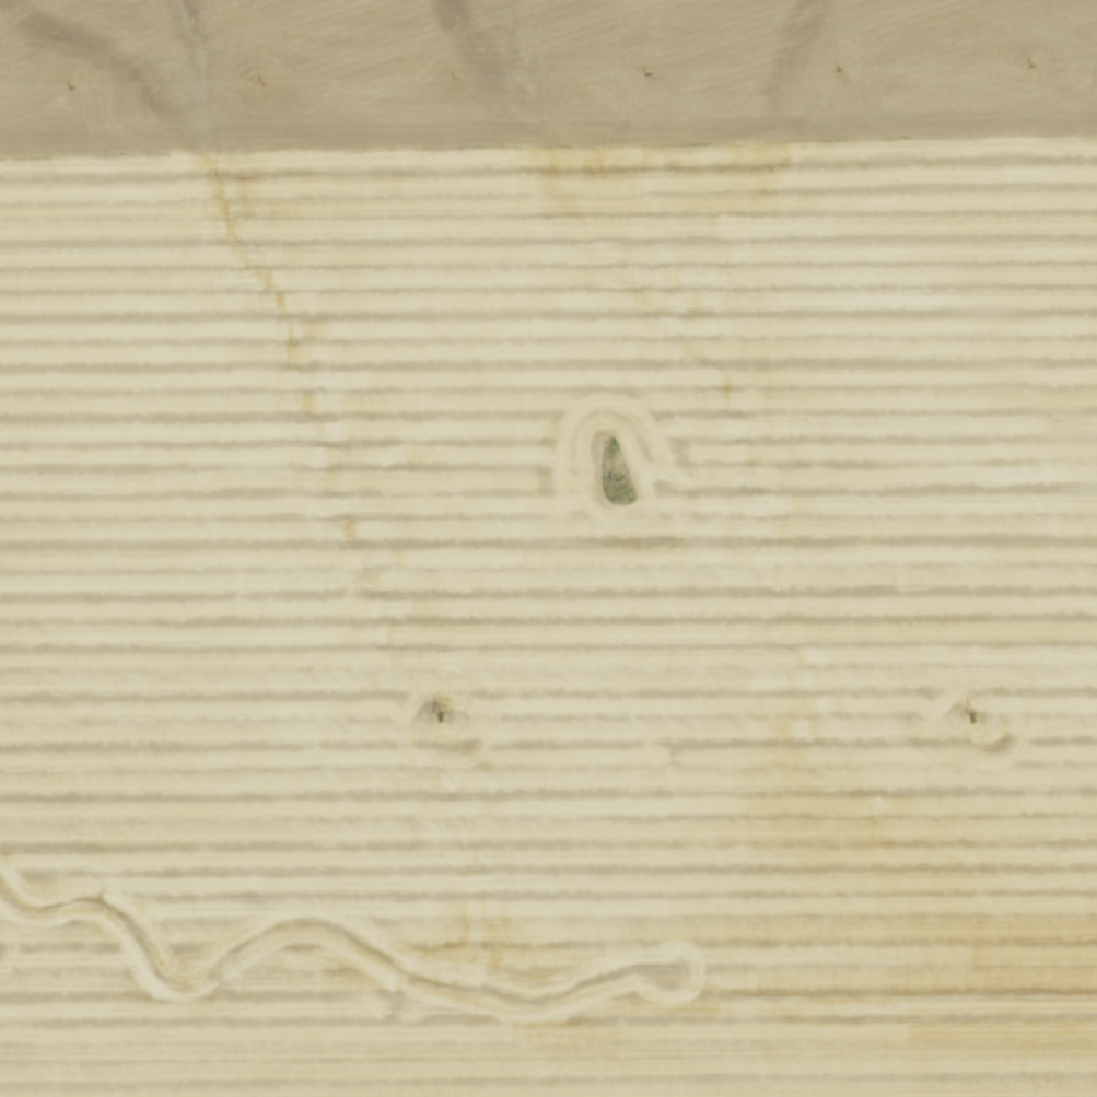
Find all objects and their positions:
crop: (548, 548)
power tower: (441, 715)
power tower: (971, 716)

